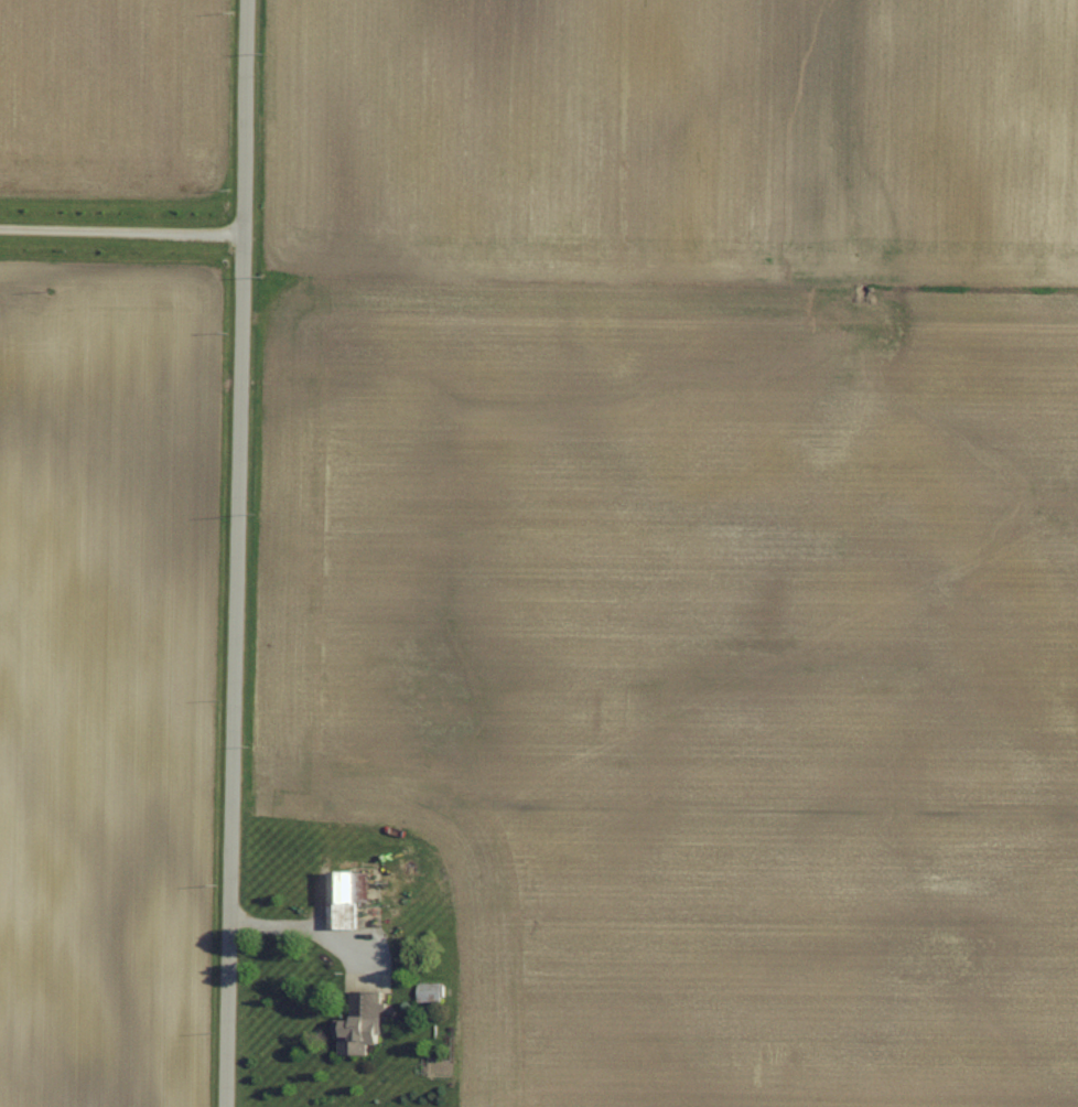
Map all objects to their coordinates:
road: (120, 232)
road: (234, 552)
building: (347, 894)
road: (306, 922)
building: (362, 1031)

